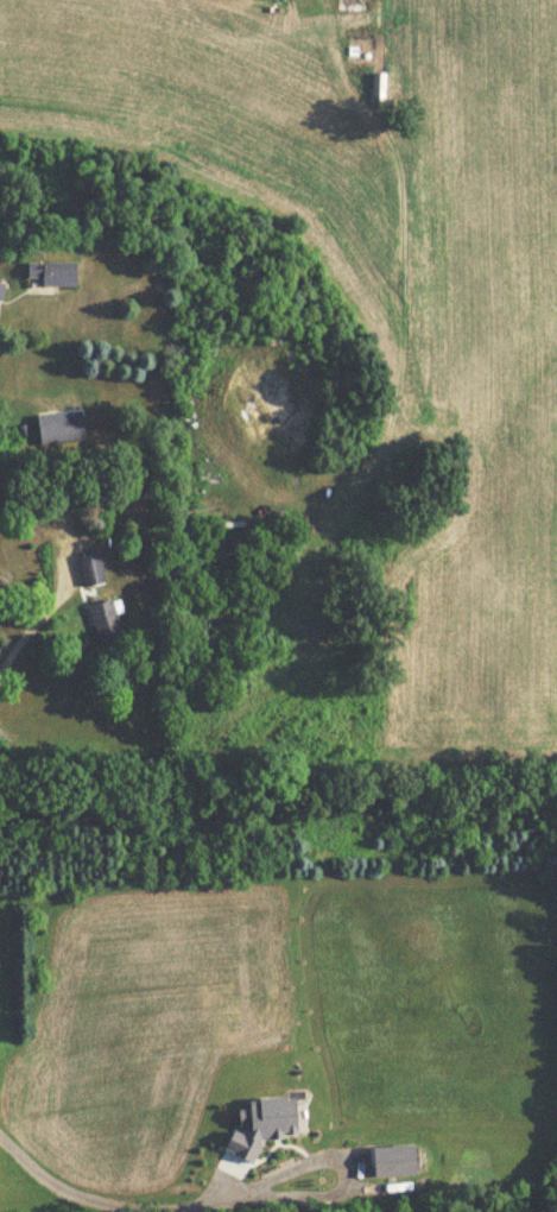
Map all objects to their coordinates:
building: (350, 5)
building: (49, 274)
building: (0, 290)
building: (58, 428)
building: (90, 569)
road: (39, 614)
building: (103, 621)
road: (110, 1205)

